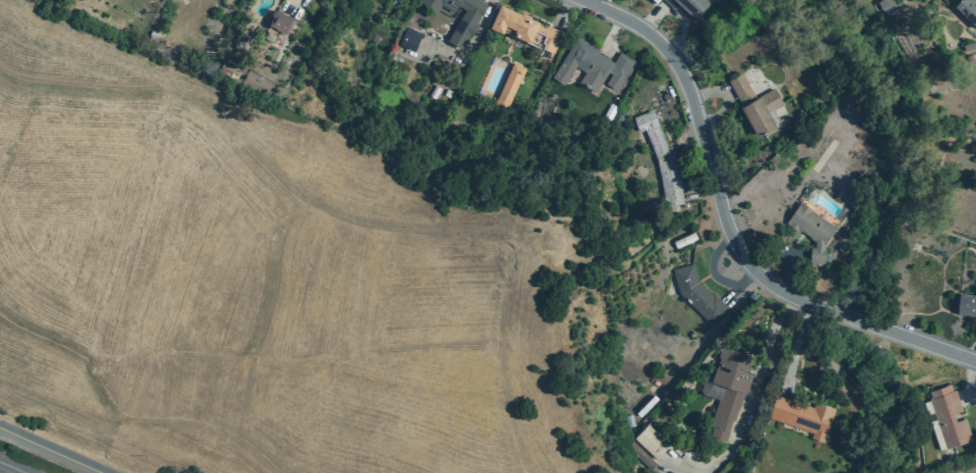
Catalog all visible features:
road: (296, 4)
road: (602, 4)
building: (687, 6)
building: (881, 6)
building: (967, 9)
road: (561, 11)
road: (653, 19)
building: (280, 21)
building: (525, 29)
building: (463, 30)
road: (612, 32)
building: (410, 39)
road: (678, 40)
building: (972, 44)
road: (465, 51)
building: (591, 66)
building: (225, 68)
building: (511, 80)
building: (740, 86)
building: (434, 92)
road: (707, 94)
building: (417, 101)
building: (761, 111)
road: (690, 141)
building: (661, 159)
road: (708, 161)
road: (701, 188)
road: (342, 222)
building: (811, 228)
building: (684, 239)
road: (787, 255)
road: (711, 267)
road: (276, 280)
park: (270, 282)
road: (742, 285)
building: (698, 294)
building: (966, 304)
road: (850, 318)
road: (917, 341)
road: (796, 343)
road: (291, 359)
road: (969, 380)
road: (755, 387)
building: (728, 391)
road: (129, 415)
building: (948, 415)
building: (802, 416)
building: (629, 422)
road: (112, 436)
building: (650, 442)
road: (67, 443)
road: (46, 452)
building: (647, 463)
road: (672, 468)
road: (1, 472)

